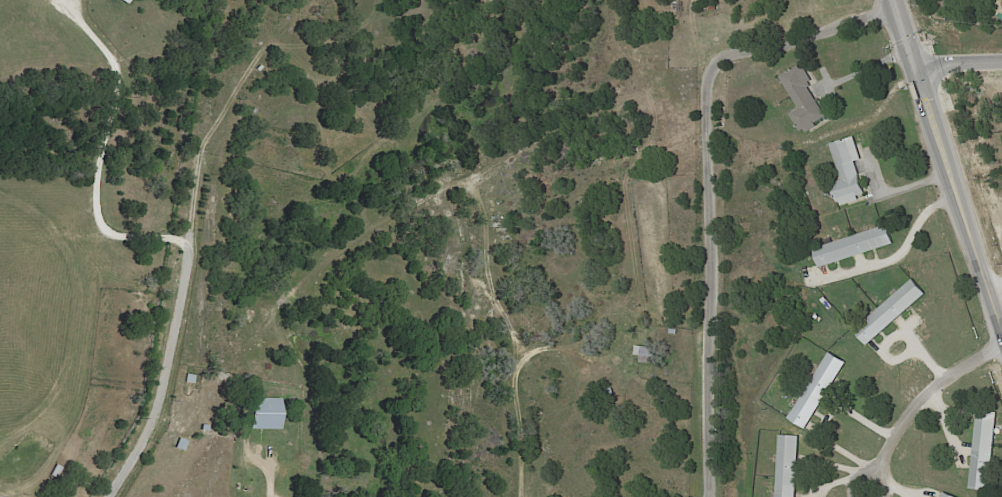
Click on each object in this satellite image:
building: (125, 1)
building: (712, 7)
road: (957, 60)
building: (259, 68)
road: (869, 68)
road: (924, 94)
building: (806, 98)
road: (98, 151)
building: (850, 171)
road: (708, 182)
road: (909, 241)
building: (856, 247)
road: (978, 258)
road: (995, 287)
building: (893, 312)
building: (675, 330)
building: (648, 354)
road: (162, 374)
building: (190, 379)
building: (821, 390)
road: (915, 400)
building: (265, 414)
building: (204, 428)
building: (181, 445)
building: (985, 450)
building: (790, 466)
road: (866, 493)
building: (949, 495)

